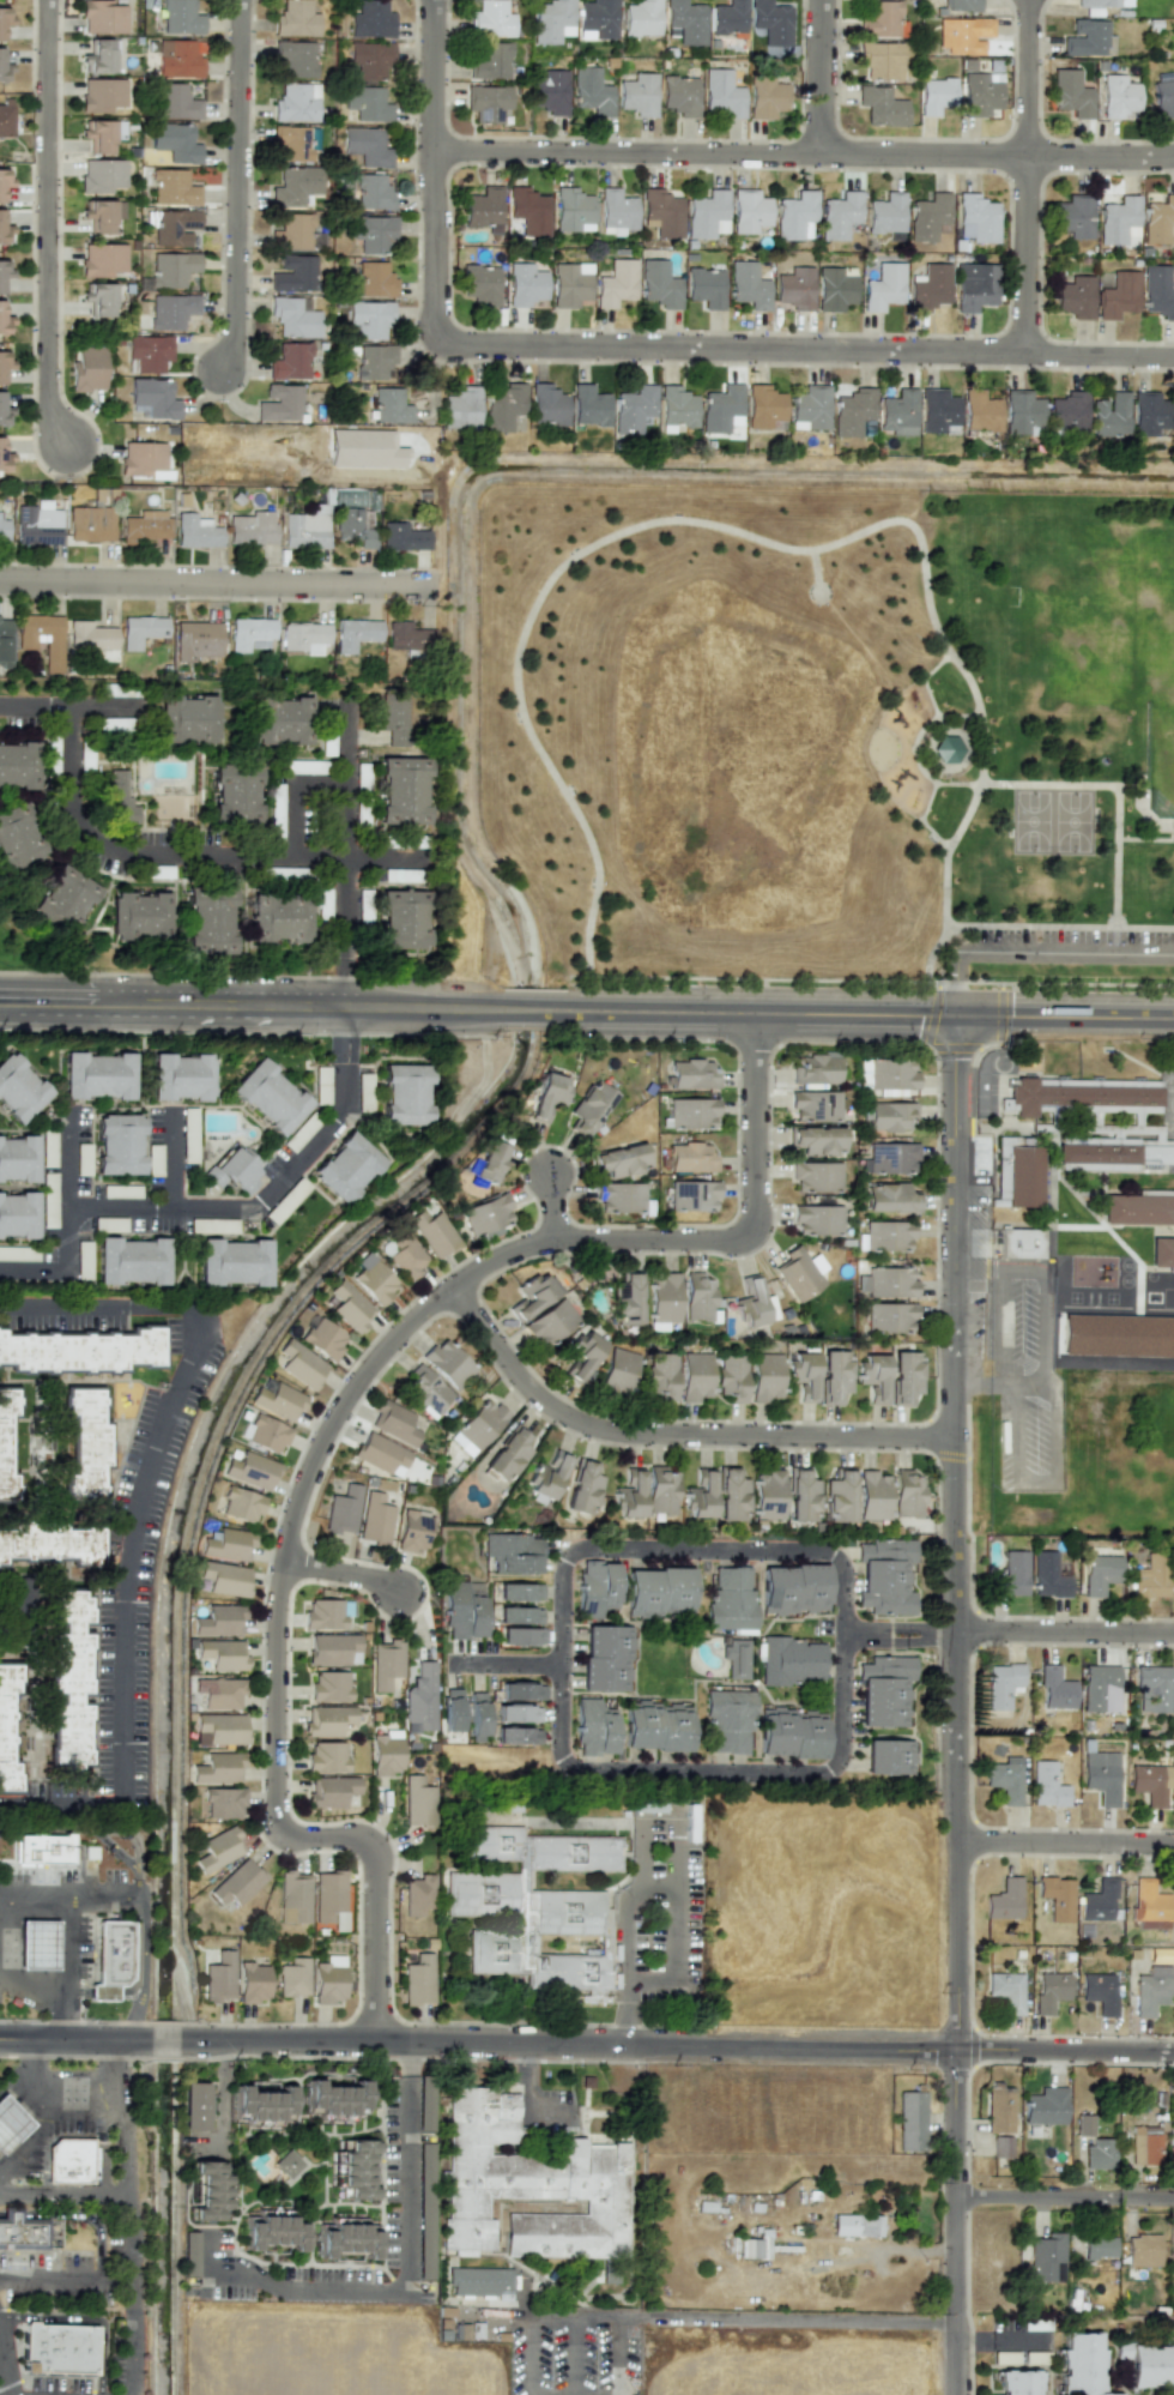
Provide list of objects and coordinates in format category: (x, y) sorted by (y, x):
building: (1103, 4)
building: (961, 5)
building: (102, 17)
building: (180, 17)
building: (641, 18)
building: (727, 18)
building: (295, 19)
building: (490, 19)
building: (595, 19)
building: (371, 20)
building: (551, 20)
building: (685, 20)
building: (880, 20)
building: (1, 22)
building: (770, 22)
building: (963, 35)
building: (1088, 38)
building: (99, 56)
building: (296, 58)
building: (177, 59)
building: (369, 59)
building: (489, 60)
building: (880, 60)
building: (4, 68)
road: (819, 78)
building: (550, 91)
building: (591, 91)
building: (721, 93)
building: (1070, 93)
building: (102, 95)
building: (637, 95)
building: (679, 95)
building: (936, 95)
building: (1163, 95)
building: (764, 97)
building: (1118, 97)
building: (175, 102)
building: (486, 102)
building: (295, 103)
building: (367, 103)
building: (880, 105)
building: (5, 120)
building: (102, 133)
building: (176, 141)
building: (293, 141)
building: (367, 146)
road: (803, 155)
building: (102, 175)
road: (1025, 177)
building: (2, 182)
road: (235, 186)
building: (295, 186)
building: (174, 188)
building: (373, 192)
building: (483, 209)
building: (528, 210)
building: (571, 210)
building: (748, 211)
building: (616, 212)
building: (661, 213)
building: (885, 213)
building: (102, 215)
building: (707, 215)
building: (794, 215)
building: (839, 215)
building: (927, 216)
building: (1072, 216)
building: (975, 218)
building: (1115, 219)
building: (1157, 221)
building: (174, 227)
building: (4, 229)
road: (48, 230)
building: (292, 233)
building: (373, 233)
building: (102, 259)
building: (173, 269)
building: (5, 272)
building: (292, 273)
building: (373, 280)
building: (479, 284)
building: (525, 284)
building: (569, 284)
building: (615, 284)
building: (658, 284)
building: (748, 285)
building: (882, 286)
building: (973, 286)
building: (704, 288)
building: (794, 288)
building: (834, 288)
building: (927, 288)
building: (1156, 291)
building: (1116, 295)
building: (1075, 297)
building: (99, 298)
building: (171, 310)
building: (292, 316)
building: (369, 319)
building: (4, 321)
road: (630, 349)
building: (149, 352)
building: (290, 361)
building: (373, 362)
building: (4, 363)
building: (87, 369)
building: (155, 398)
building: (279, 403)
building: (546, 405)
building: (588, 405)
building: (389, 406)
building: (502, 406)
building: (762, 406)
building: (461, 408)
building: (809, 408)
building: (633, 409)
building: (676, 409)
building: (719, 409)
building: (936, 410)
building: (4, 411)
building: (852, 411)
building: (979, 411)
building: (897, 412)
building: (1019, 412)
building: (1066, 412)
building: (1148, 414)
building: (1108, 415)
building: (4, 458)
building: (143, 459)
road: (431, 517)
building: (37, 524)
building: (90, 524)
building: (145, 526)
building: (250, 527)
building: (307, 527)
building: (352, 527)
building: (4, 529)
building: (195, 531)
building: (403, 537)
road: (216, 581)
building: (140, 631)
building: (355, 633)
building: (90, 635)
building: (303, 637)
building: (409, 637)
building: (42, 638)
building: (5, 640)
building: (196, 640)
road: (36, 710)
road: (103, 711)
building: (395, 718)
building: (196, 728)
building: (291, 730)
park: (831, 738)
building: (946, 749)
building: (16, 774)
building: (114, 789)
building: (404, 795)
building: (244, 796)
road: (297, 821)
road: (347, 831)
building: (18, 841)
road: (190, 849)
building: (67, 909)
building: (147, 916)
building: (218, 928)
building: (285, 928)
building: (401, 934)
parking lot: (1072, 940)
road: (1036, 955)
road: (344, 982)
road: (586, 1009)
road: (243, 1032)
road: (339, 1033)
building: (815, 1068)
building: (692, 1074)
building: (95, 1076)
building: (178, 1076)
building: (885, 1076)
road: (339, 1090)
building: (17, 1091)
building: (547, 1094)
building: (403, 1097)
building: (1075, 1097)
building: (268, 1098)
building: (813, 1105)
building: (588, 1106)
building: (691, 1114)
building: (889, 1116)
building: (817, 1140)
building: (115, 1145)
building: (1112, 1156)
building: (16, 1158)
building: (690, 1158)
building: (889, 1158)
building: (618, 1160)
road: (168, 1162)
building: (489, 1162)
road: (292, 1163)
building: (341, 1168)
building: (234, 1169)
building: (816, 1176)
building: (1022, 1176)
road: (65, 1189)
building: (692, 1195)
building: (618, 1197)
building: (889, 1197)
road: (155, 1207)
road: (551, 1207)
building: (1138, 1211)
building: (17, 1214)
building: (485, 1215)
building: (817, 1219)
building: (431, 1233)
building: (886, 1236)
building: (1019, 1245)
building: (1161, 1254)
building: (401, 1255)
building: (127, 1262)
building: (231, 1263)
road: (32, 1265)
road: (980, 1265)
road: (1024, 1265)
building: (799, 1273)
building: (371, 1279)
building: (886, 1283)
building: (531, 1296)
building: (697, 1298)
building: (625, 1301)
building: (662, 1301)
building: (750, 1303)
building: (349, 1307)
road: (104, 1313)
building: (889, 1316)
building: (550, 1322)
road: (1003, 1323)
building: (1116, 1335)
building: (321, 1338)
building: (81, 1350)
building: (581, 1353)
building: (447, 1363)
building: (299, 1364)
building: (616, 1371)
building: (803, 1374)
building: (661, 1376)
building: (694, 1376)
building: (834, 1376)
building: (873, 1376)
road: (1040, 1376)
building: (731, 1377)
building: (764, 1377)
building: (903, 1377)
road: (982, 1380)
building: (425, 1389)
building: (277, 1401)
road: (329, 1423)
building: (394, 1423)
building: (477, 1426)
building: (264, 1432)
road: (672, 1434)
building: (1007, 1436)
building: (6, 1443)
building: (84, 1443)
road: (1015, 1450)
building: (381, 1454)
building: (507, 1456)
building: (250, 1470)
building: (545, 1477)
building: (582, 1488)
building: (660, 1491)
building: (906, 1494)
building: (628, 1495)
building: (698, 1495)
building: (731, 1495)
building: (767, 1495)
building: (800, 1496)
building: (872, 1496)
building: (839, 1497)
building: (240, 1504)
building: (343, 1509)
building: (375, 1516)
building: (413, 1531)
building: (50, 1542)
building: (225, 1544)
road: (127, 1550)
building: (513, 1552)
road: (341, 1573)
building: (1099, 1574)
building: (1010, 1575)
building: (885, 1576)
building: (1046, 1576)
building: (1149, 1577)
building: (1173, 1577)
building: (223, 1579)
building: (595, 1588)
building: (793, 1589)
building: (520, 1592)
building: (658, 1592)
building: (731, 1598)
building: (462, 1609)
building: (322, 1613)
building: (519, 1615)
building: (217, 1619)
road: (1010, 1630)
building: (521, 1636)
building: (333, 1649)
building: (222, 1654)
building: (605, 1658)
building: (736, 1658)
building: (791, 1660)
building: (385, 1664)
road: (509, 1664)
building: (69, 1678)
building: (1001, 1684)
building: (329, 1685)
building: (1100, 1688)
building: (1152, 1688)
building: (1055, 1689)
building: (521, 1690)
building: (885, 1691)
building: (220, 1693)
road: (565, 1695)
building: (420, 1699)
road: (955, 1705)
building: (452, 1709)
building: (519, 1713)
building: (477, 1717)
building: (327, 1720)
building: (728, 1720)
building: (219, 1727)
building: (594, 1727)
building: (655, 1727)
building: (7, 1732)
building: (791, 1733)
building: (518, 1736)
building: (386, 1755)
building: (888, 1756)
building: (326, 1757)
building: (216, 1768)
building: (1005, 1779)
building: (1101, 1782)
building: (1150, 1782)
building: (1046, 1785)
building: (329, 1791)
road: (60, 1800)
building: (222, 1802)
building: (417, 1802)
road: (661, 1826)
road: (89, 1829)
road: (1064, 1844)
building: (44, 1850)
building: (217, 1850)
road: (647, 1868)
building: (235, 1886)
road: (662, 1887)
building: (293, 1895)
building: (328, 1895)
building: (418, 1895)
road: (144, 1896)
building: (1057, 1896)
road: (677, 1898)
building: (1004, 1900)
building: (1099, 1901)
building: (1150, 1905)
building: (538, 1911)
road: (631, 1944)
building: (35, 1945)
building: (111, 1957)
road: (63, 1967)
road: (133, 1974)
building: (219, 1977)
road: (654, 1977)
building: (293, 1978)
building: (328, 1979)
building: (418, 1979)
building: (253, 1983)
road: (31, 1984)
building: (1151, 1990)
building: (1005, 1991)
building: (1049, 1991)
building: (1099, 1992)
road: (631, 2016)
road: (73, 2021)
road: (586, 2047)
road: (320, 2055)
road: (114, 2075)
road: (36, 2077)
road: (219, 2095)
road: (529, 2095)
building: (338, 2097)
building: (264, 2101)
building: (1173, 2101)
building: (193, 2106)
building: (1045, 2106)
building: (999, 2110)
road: (83, 2112)
building: (910, 2120)
building: (11, 2124)
building: (1083, 2124)
road: (24, 2136)
building: (1145, 2146)
building: (1000, 2147)
road: (122, 2152)
building: (1099, 2154)
building: (1170, 2156)
building: (67, 2164)
building: (289, 2166)
building: (356, 2170)
building: (528, 2188)
building: (207, 2189)
road: (63, 2195)
road: (1063, 2198)
road: (77, 2214)
building: (855, 2225)
building: (273, 2231)
building: (23, 2233)
road: (127, 2236)
building: (346, 2239)
building: (1099, 2248)
building: (1142, 2250)
building: (189, 2254)
building: (1046, 2258)
building: (1173, 2269)
road: (50, 2276)
road: (115, 2278)
building: (479, 2281)
road: (407, 2284)
road: (102, 2288)
road: (52, 2317)
road: (740, 2319)
road: (14, 2328)
road: (127, 2336)
building: (56, 2348)
parking lot: (573, 2352)
road: (527, 2354)
road: (619, 2354)
road: (577, 2355)
road: (99, 2360)
building: (1081, 2364)
building: (1150, 2365)
road: (63, 2376)
road: (4, 2377)
building: (1018, 2382)
road: (551, 2391)

